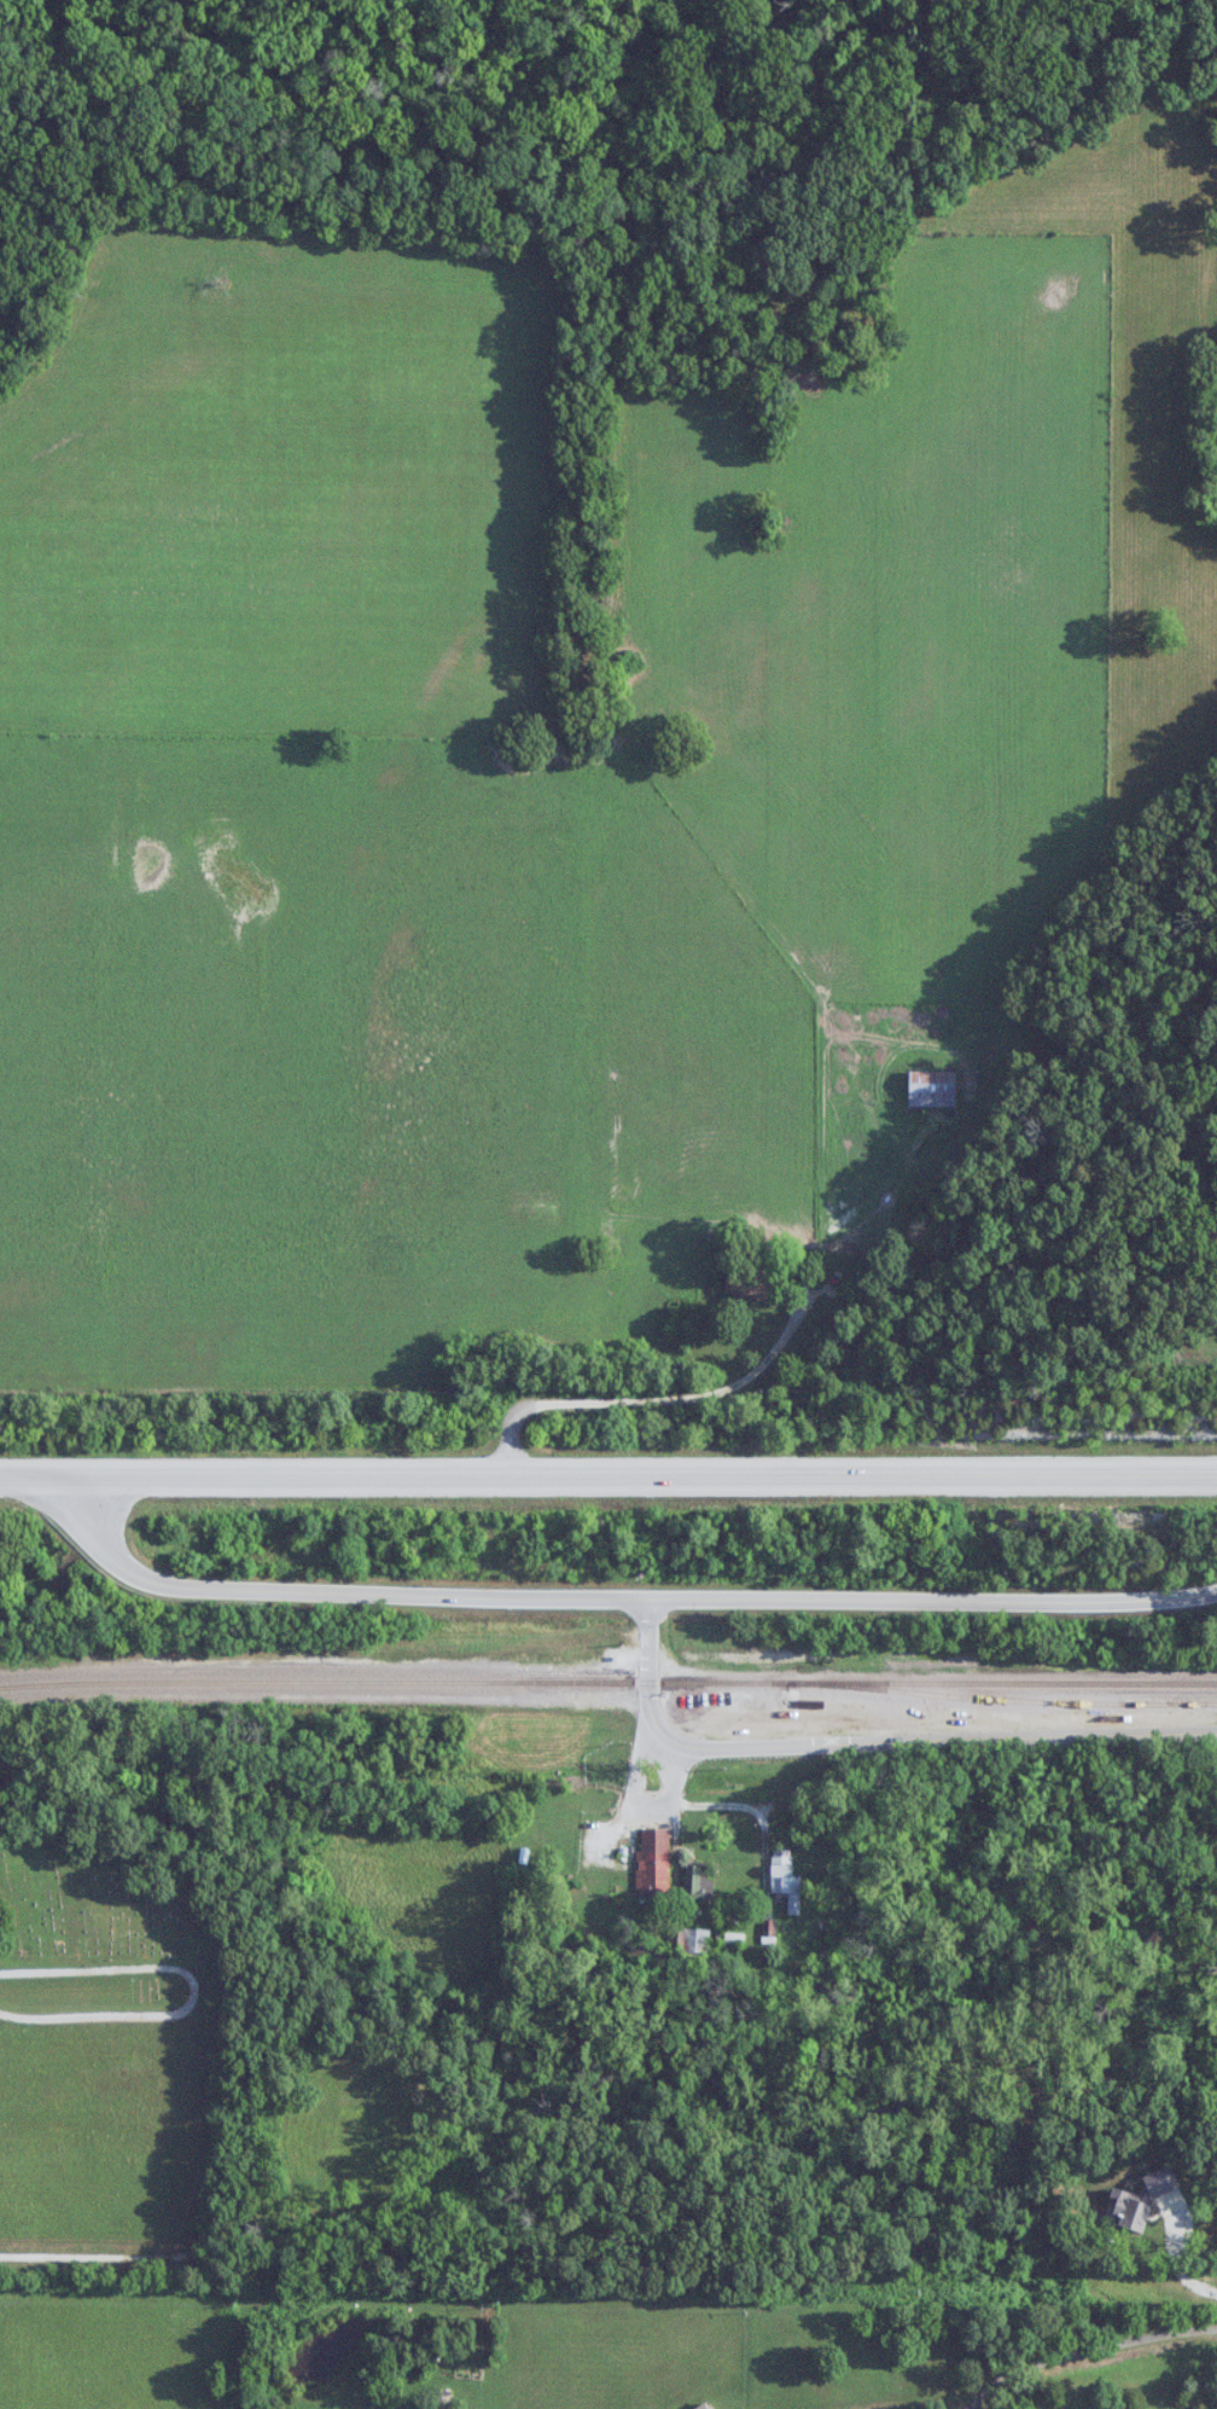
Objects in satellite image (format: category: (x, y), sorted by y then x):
building: (932, 1089)
building: (747, 1284)
road: (663, 1399)
road: (607, 1474)
road: (616, 1600)
railway: (607, 1682)
railway: (1014, 1700)
road: (868, 1742)
building: (654, 1863)
building: (785, 1876)
building: (698, 1881)
road: (1064, 2312)

